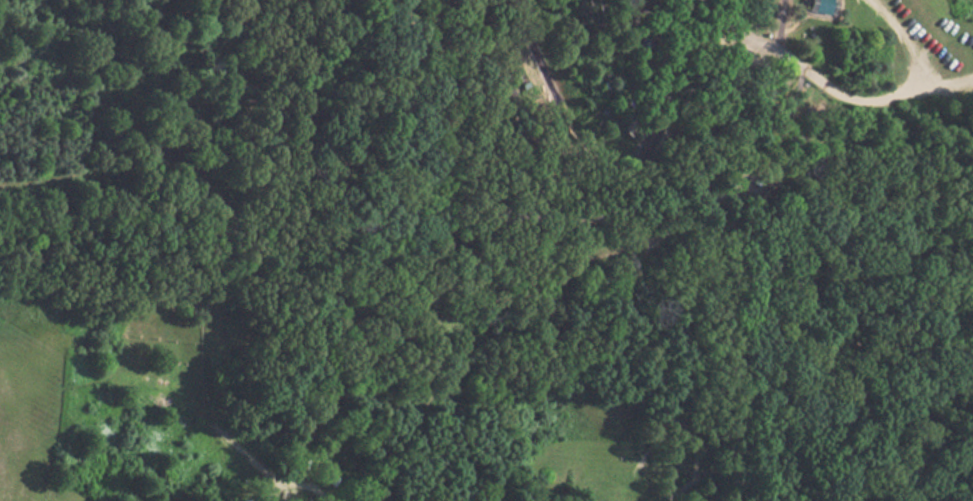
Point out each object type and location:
building: (823, 6)
building: (463, 9)
road: (908, 41)
building: (641, 46)
road: (691, 49)
road: (669, 53)
building: (524, 77)
building: (653, 95)
road: (842, 97)
road: (665, 120)
building: (496, 122)
building: (641, 180)
road: (733, 250)
road: (207, 336)
park: (162, 359)
building: (157, 409)
road: (299, 482)

